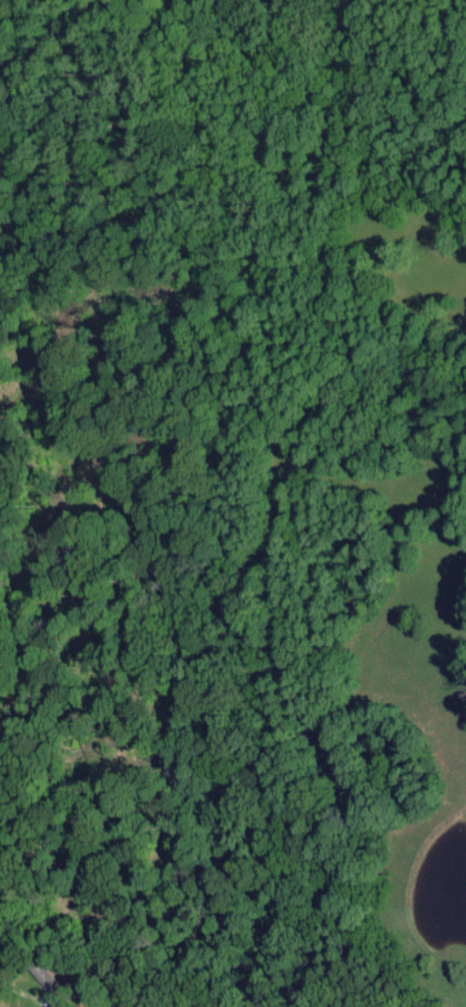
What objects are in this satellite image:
building: (37, 966)

